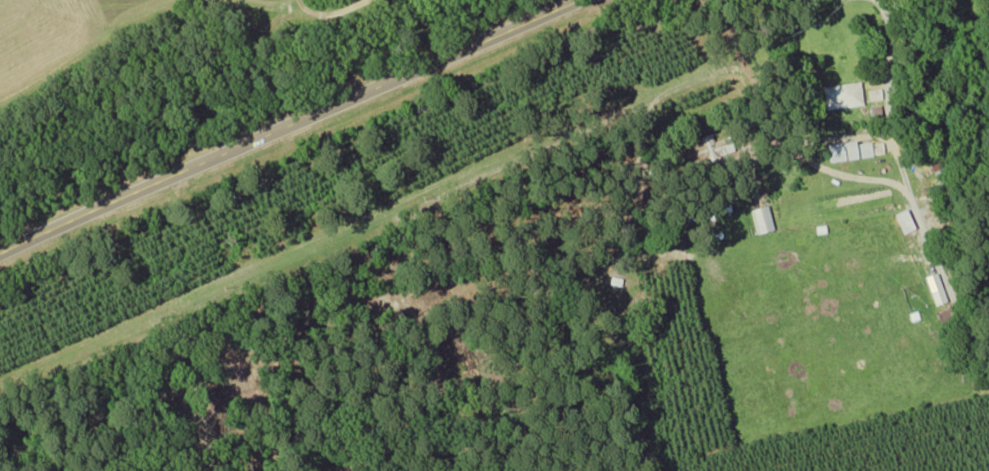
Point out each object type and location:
building: (840, 94)
road: (286, 124)
building: (845, 149)
building: (760, 218)
building: (900, 220)

